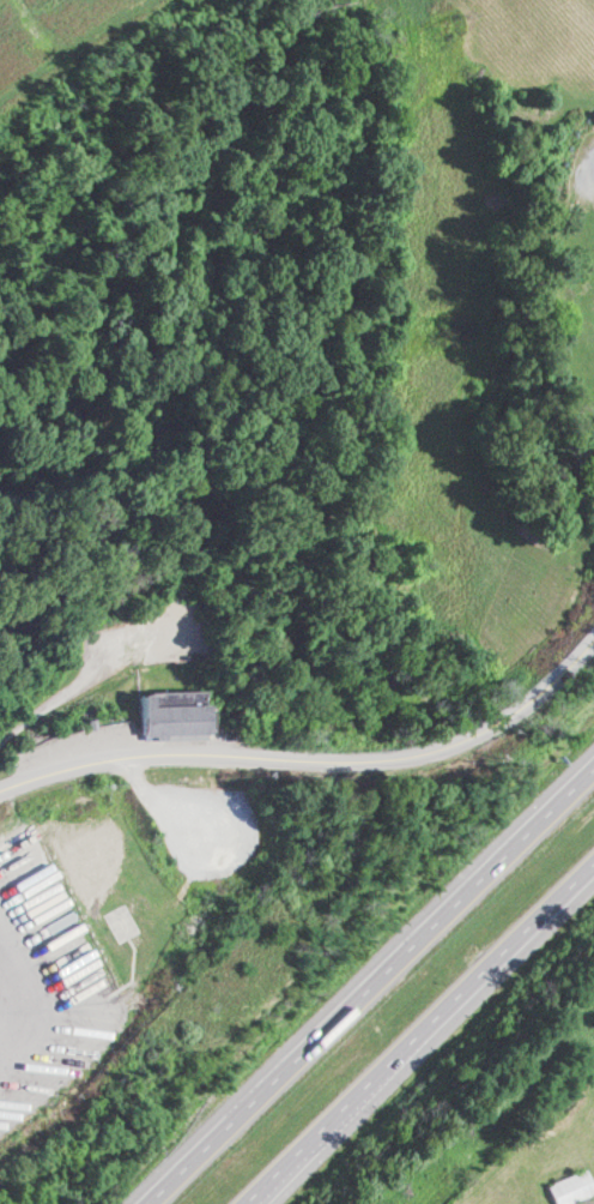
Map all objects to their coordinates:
building: (592, 312)
building: (168, 714)
road: (315, 755)
road: (369, 986)
road: (424, 1039)
building: (571, 1188)

